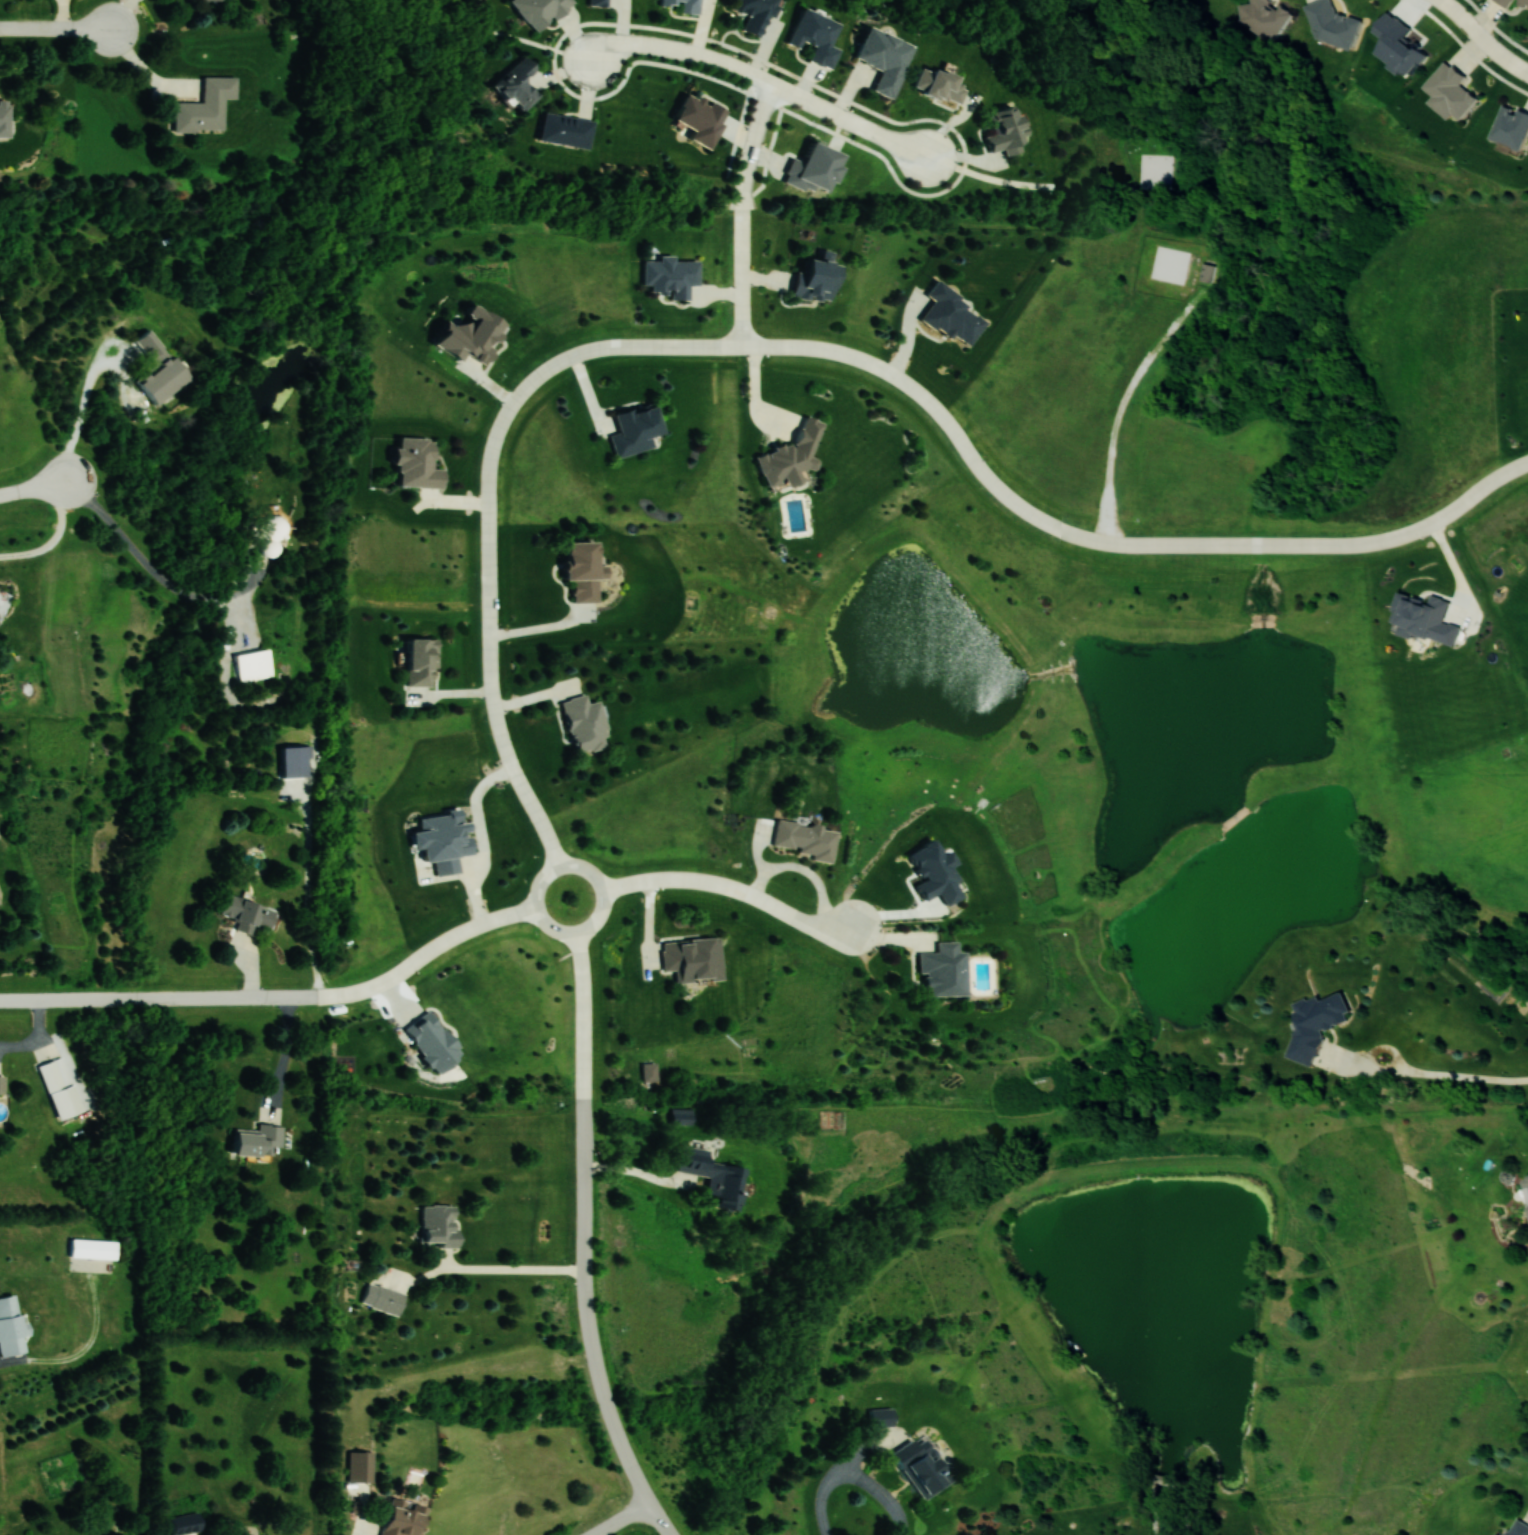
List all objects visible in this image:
building: (215, 1)
building: (196, 2)
building: (598, 3)
building: (683, 5)
building: (540, 11)
building: (755, 14)
building: (1261, 18)
building: (1330, 25)
road: (1496, 27)
road: (56, 30)
building: (818, 36)
road: (1482, 38)
road: (1466, 46)
road: (682, 49)
road: (746, 53)
building: (887, 58)
road: (148, 72)
building: (519, 84)
building: (942, 84)
building: (206, 106)
building: (701, 119)
building: (5, 120)
road: (856, 122)
building: (1509, 126)
building: (566, 130)
road: (738, 131)
building: (1008, 131)
road: (767, 157)
building: (815, 168)
road: (742, 212)
building: (1210, 271)
building: (818, 279)
building: (954, 316)
building: (165, 379)
road: (81, 417)
building: (792, 452)
building: (418, 464)
road: (35, 488)
road: (999, 488)
building: (273, 529)
road: (54, 538)
road: (140, 556)
road: (1457, 569)
building: (583, 570)
building: (0, 622)
road: (489, 641)
building: (422, 662)
building: (254, 665)
road: (1347, 707)
building: (585, 723)
road: (1236, 814)
building: (807, 839)
road: (732, 886)
building: (247, 914)
road: (578, 929)
road: (427, 951)
building: (693, 960)
building: (945, 971)
road: (1118, 981)
road: (159, 998)
road: (583, 1017)
building: (1312, 1025)
road: (270, 1044)
road: (1370, 1057)
building: (55, 1075)
road: (1174, 1076)
road: (1466, 1076)
building: (2, 1083)
road: (788, 1106)
building: (682, 1117)
road: (998, 1129)
road: (1239, 1130)
road: (1083, 1135)
building: (259, 1141)
road: (634, 1171)
road: (1275, 1172)
building: (715, 1177)
building: (1525, 1189)
road: (986, 1195)
building: (439, 1226)
building: (94, 1249)
road: (517, 1269)
building: (383, 1300)
road: (586, 1309)
building: (10, 1327)
road: (826, 1353)
road: (1066, 1364)
building: (875, 1417)
building: (915, 1468)
road: (853, 1476)
road: (1169, 1480)
road: (1212, 1491)
road: (1246, 1499)
road: (1252, 1515)
road: (1240, 1516)
building: (403, 1517)
road: (619, 1519)
road: (655, 1519)
building: (184, 1524)
road: (357, 1526)
building: (1516, 1528)
road: (1249, 1533)

